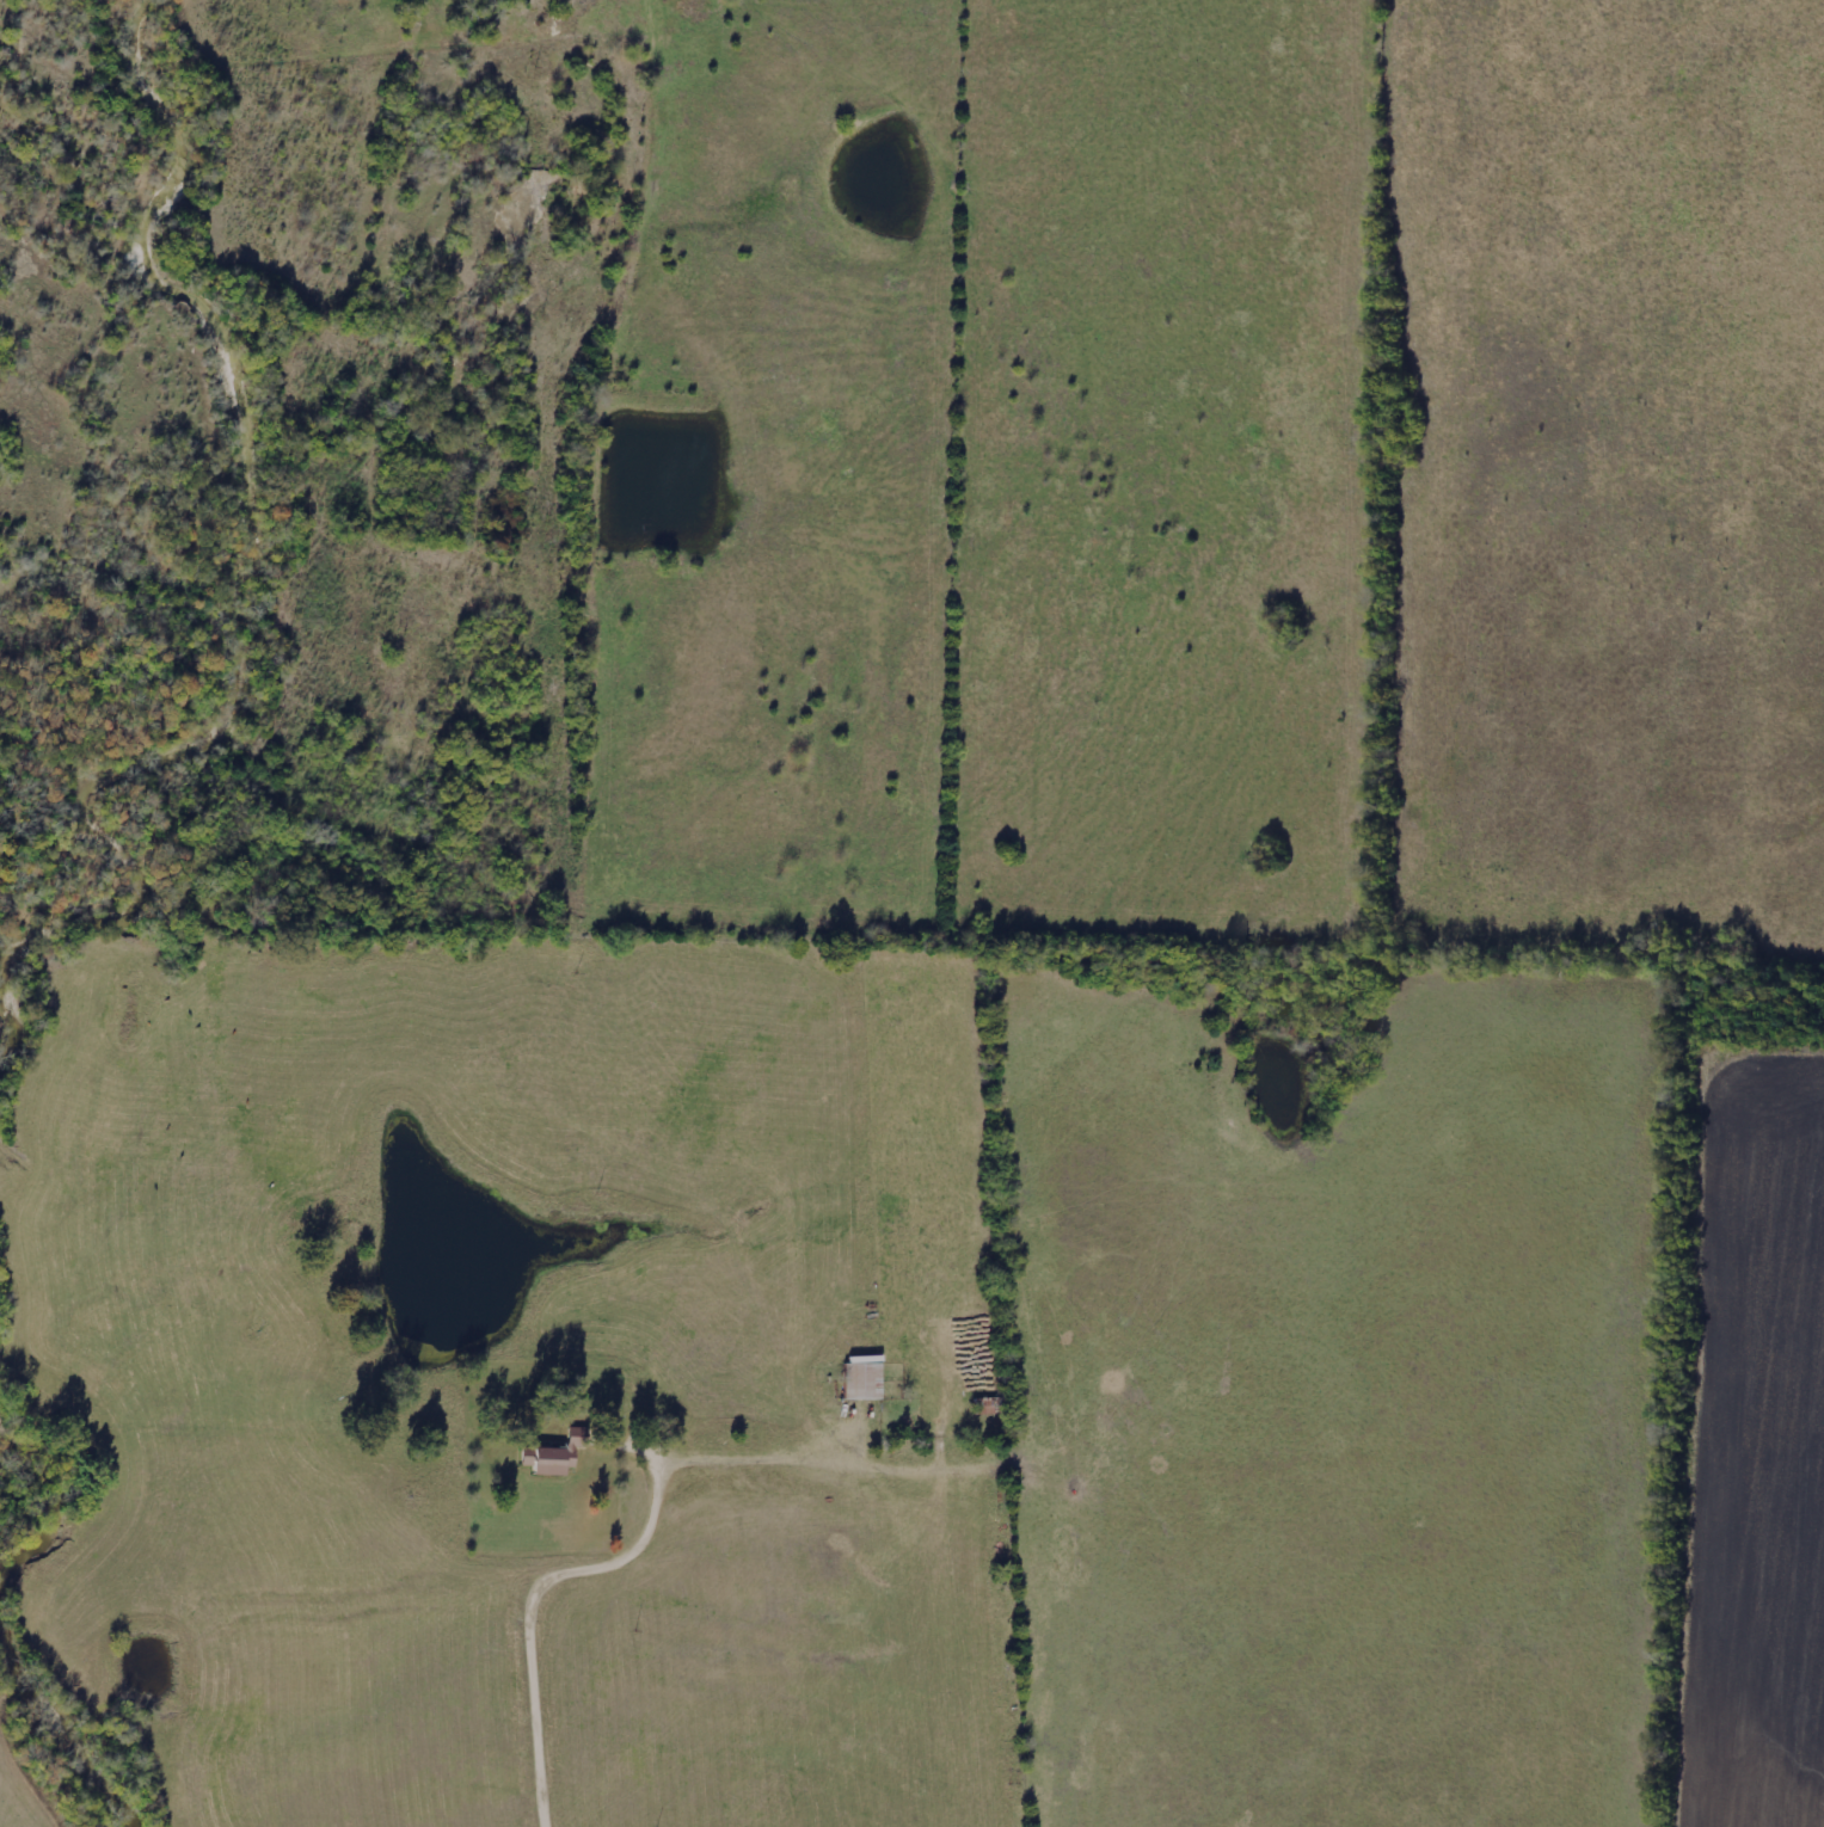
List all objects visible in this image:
building: (862, 1380)
building: (555, 1454)

